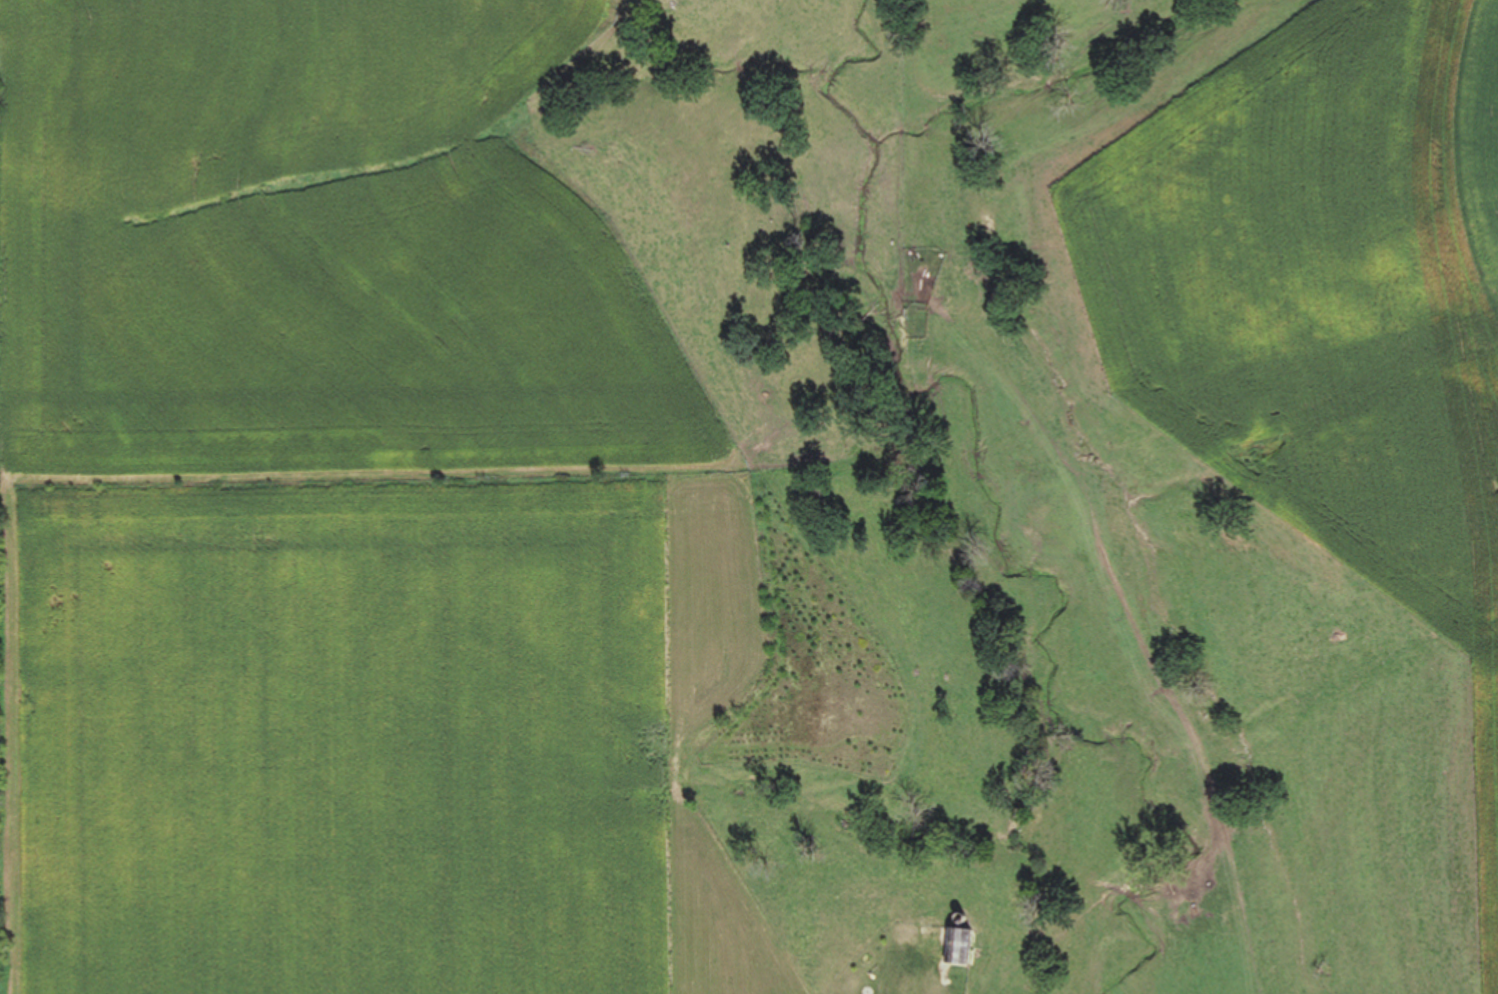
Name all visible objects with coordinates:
building: (954, 945)

